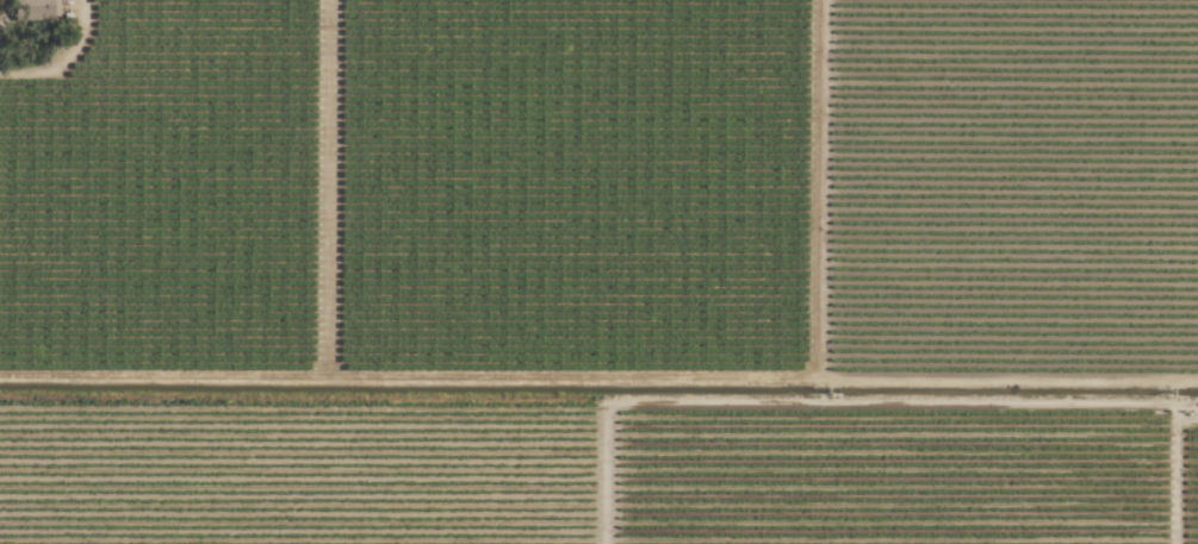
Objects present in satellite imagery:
building: (35, 10)

